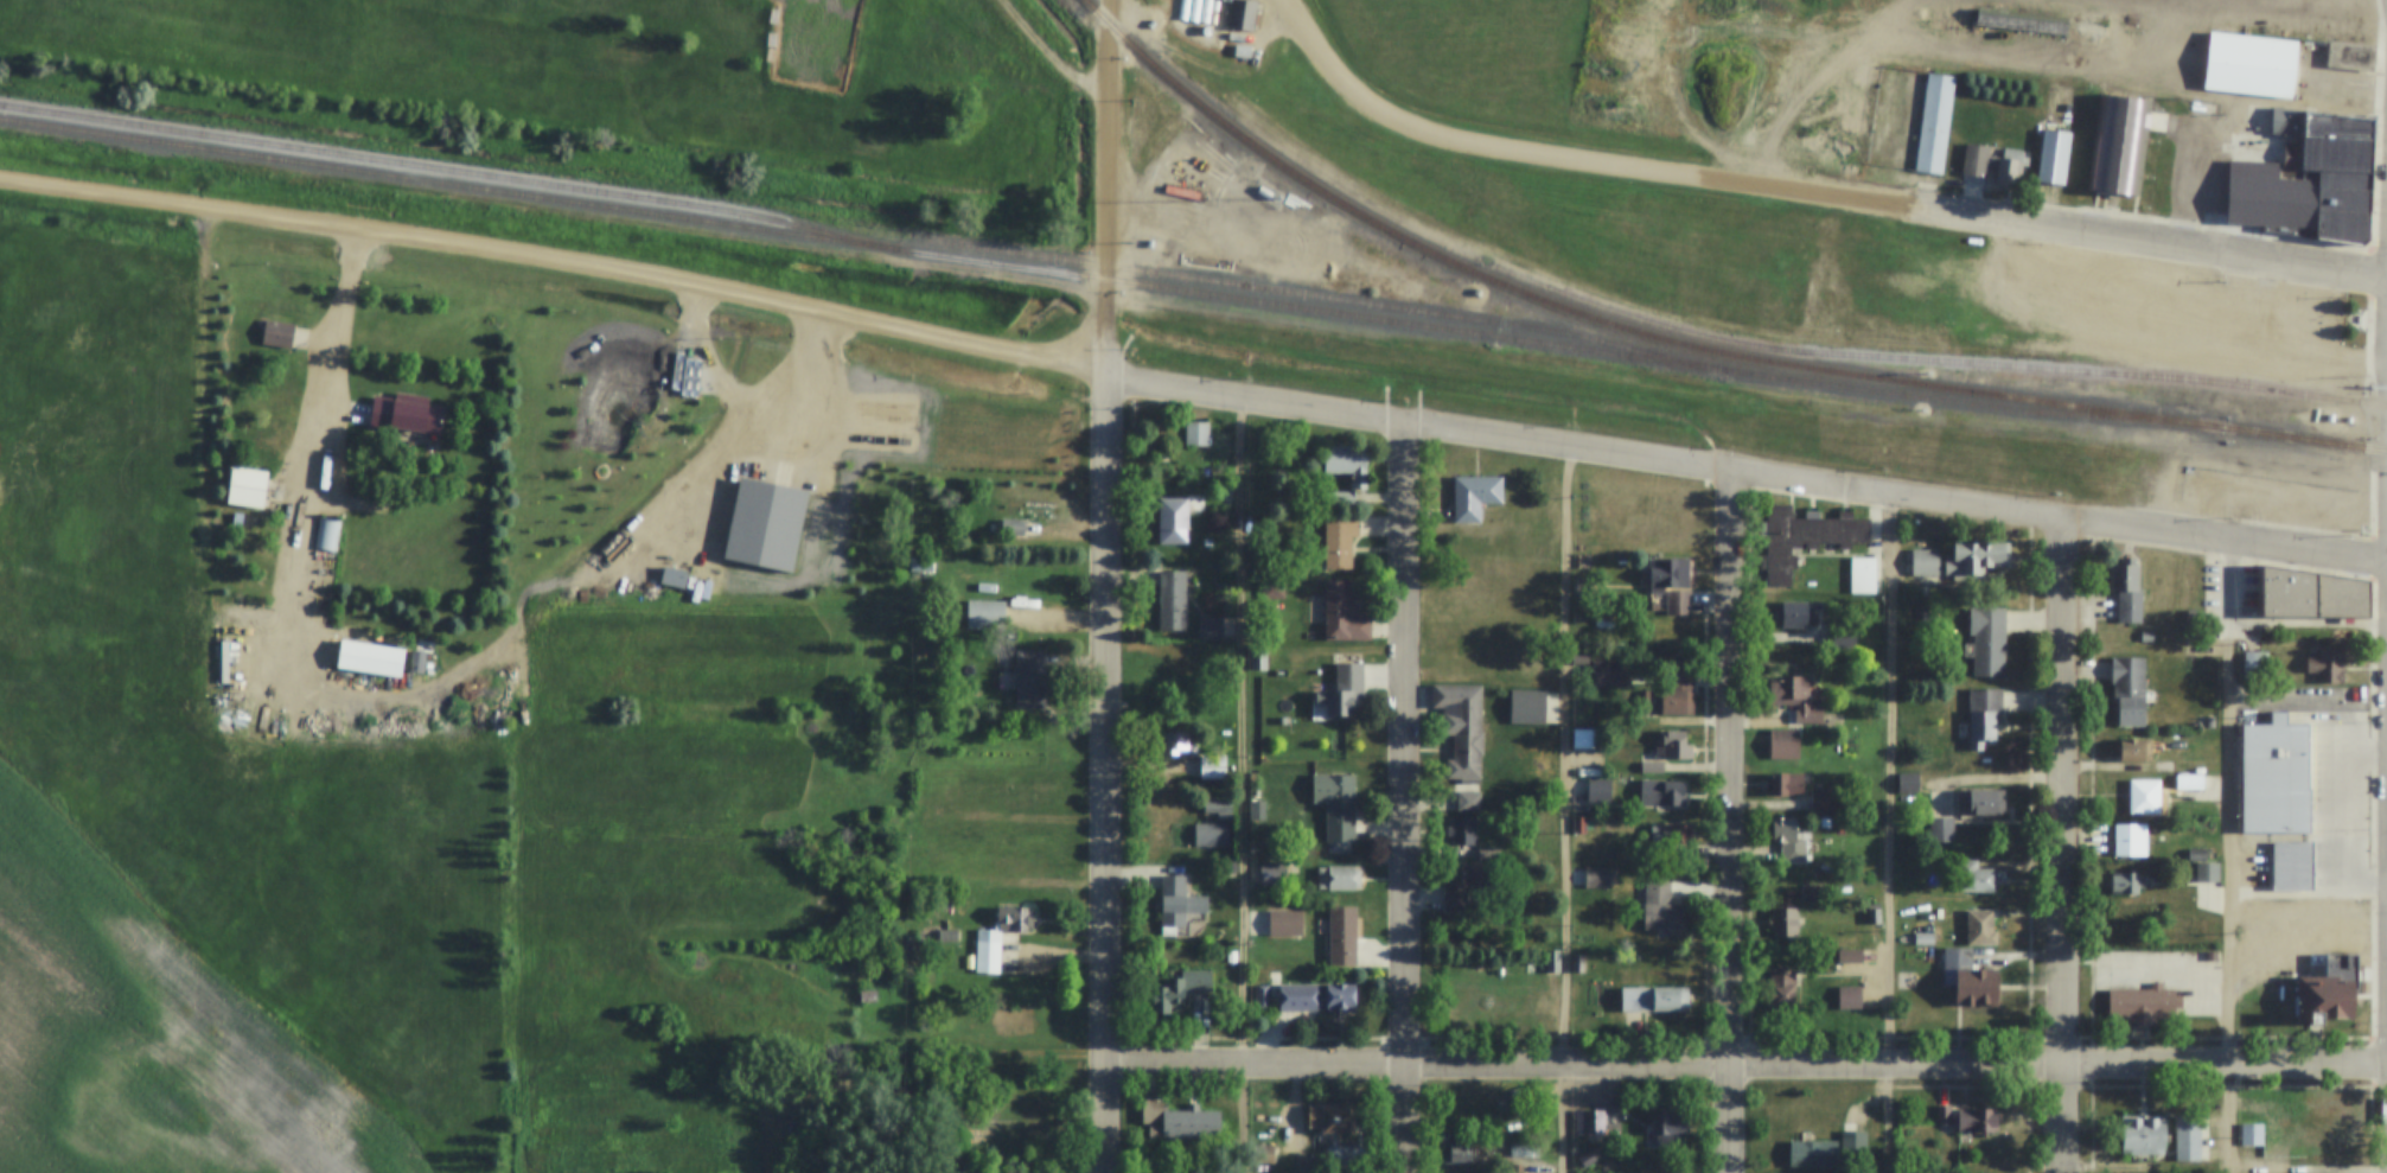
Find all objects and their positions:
storage tank: (1215, 6)
storage tank: (1183, 11)
storage tank: (1194, 11)
storage tank: (1205, 11)
railway: (2284, 11)
building: (1243, 14)
storage tank: (1214, 19)
building: (2022, 24)
storage tank: (1206, 30)
building: (2091, 30)
road: (1052, 51)
building: (2251, 64)
building: (2332, 74)
building: (2286, 121)
building: (1934, 125)
building: (2335, 125)
building: (2118, 142)
building: (2327, 154)
building: (2053, 155)
road: (1561, 159)
building: (1990, 165)
railway: (447, 168)
building: (2347, 178)
road: (1106, 186)
building: (1264, 192)
building: (2342, 197)
building: (2343, 224)
road: (2143, 240)
road: (555, 261)
building: (1785, 273)
railway: (1109, 280)
building: (1476, 292)
railway: (1316, 297)
railway: (1608, 321)
building: (277, 333)
railway: (1930, 370)
building: (404, 414)
building: (1195, 433)
railway: (2303, 436)
road: (321, 445)
building: (1163, 457)
building: (1346, 459)
road: (1744, 472)
building: (247, 486)
building: (1474, 495)
building: (1660, 516)
building: (1173, 521)
building: (1011, 528)
building: (327, 534)
building: (1804, 537)
building: (1339, 538)
building: (260, 557)
building: (1974, 559)
building: (1925, 562)
building: (920, 565)
building: (1862, 575)
building: (1025, 581)
building: (1673, 584)
building: (1583, 587)
building: (2126, 592)
building: (2311, 592)
building: (1172, 600)
building: (1342, 613)
building: (1794, 614)
building: (985, 616)
building: (1210, 627)
building: (2146, 636)
building: (1843, 638)
building: (1987, 640)
building: (1466, 651)
building: (230, 656)
building: (1258, 656)
building: (370, 658)
building: (2257, 663)
building: (2327, 663)
building: (1611, 672)
building: (1030, 680)
building: (2128, 689)
building: (1342, 690)
building: (1672, 691)
building: (1794, 699)
building: (1527, 707)
building: (1983, 715)
building: (2209, 721)
building: (1461, 727)
building: (1584, 739)
building: (1785, 745)
building: (1177, 746)
building: (1672, 746)
building: (2136, 750)
building: (2164, 766)
building: (1212, 767)
building: (1652, 767)
road: (1111, 773)
building: (2274, 776)
building: (2189, 782)
building: (1907, 784)
road: (1238, 785)
building: (1786, 785)
parking lot: (2336, 788)
building: (1019, 789)
building: (1598, 791)
building: (1661, 792)
building: (2143, 796)
road: (1410, 798)
building: (1823, 799)
building: (1468, 802)
building: (1983, 802)
building: (1256, 803)
building: (1336, 804)
building: (1217, 805)
road: (1563, 808)
building: (910, 817)
building: (934, 818)
road: (1734, 821)
building: (1578, 824)
building: (1463, 830)
building: (1941, 831)
road: (1896, 834)
building: (1670, 835)
building: (1211, 836)
building: (1787, 840)
building: (2130, 840)
road: (2068, 844)
building: (2197, 854)
road: (2235, 858)
building: (2292, 866)
building: (1231, 867)
building: (1814, 868)
building: (2207, 872)
building: (1272, 874)
building: (1338, 878)
building: (1977, 879)
building: (2125, 882)
building: (1455, 885)
building: (1811, 894)
building: (940, 904)
building: (1177, 905)
building: (1660, 907)
building: (1014, 917)
building: (1874, 917)
building: (1783, 923)
building: (1285, 924)
building: (1980, 929)
building: (1342, 935)
building: (946, 936)
building: (1923, 941)
building: (987, 952)
building: (2328, 954)
building: (2210, 956)
building: (1231, 957)
building: (1552, 962)
building: (1578, 964)
building: (1850, 964)
parking lot: (2165, 976)
building: (1196, 982)
building: (1976, 989)
building: (1463, 993)
building: (867, 996)
building: (1168, 996)
building: (1262, 996)
building: (1316, 997)
building: (2324, 999)
building: (1654, 1000)
building: (2140, 1003)
road: (1749, 1069)
building: (1472, 1108)
building: (1335, 1118)
building: (1968, 1118)
building: (1593, 1121)
building: (1177, 1122)
building: (1667, 1129)
building: (2319, 1129)
building: (2143, 1134)
building: (2252, 1134)
building: (2188, 1137)
building: (1872, 1140)
building: (1521, 1152)
building: (1263, 1154)
building: (1461, 1154)
building: (1813, 1155)
building: (1588, 1156)

